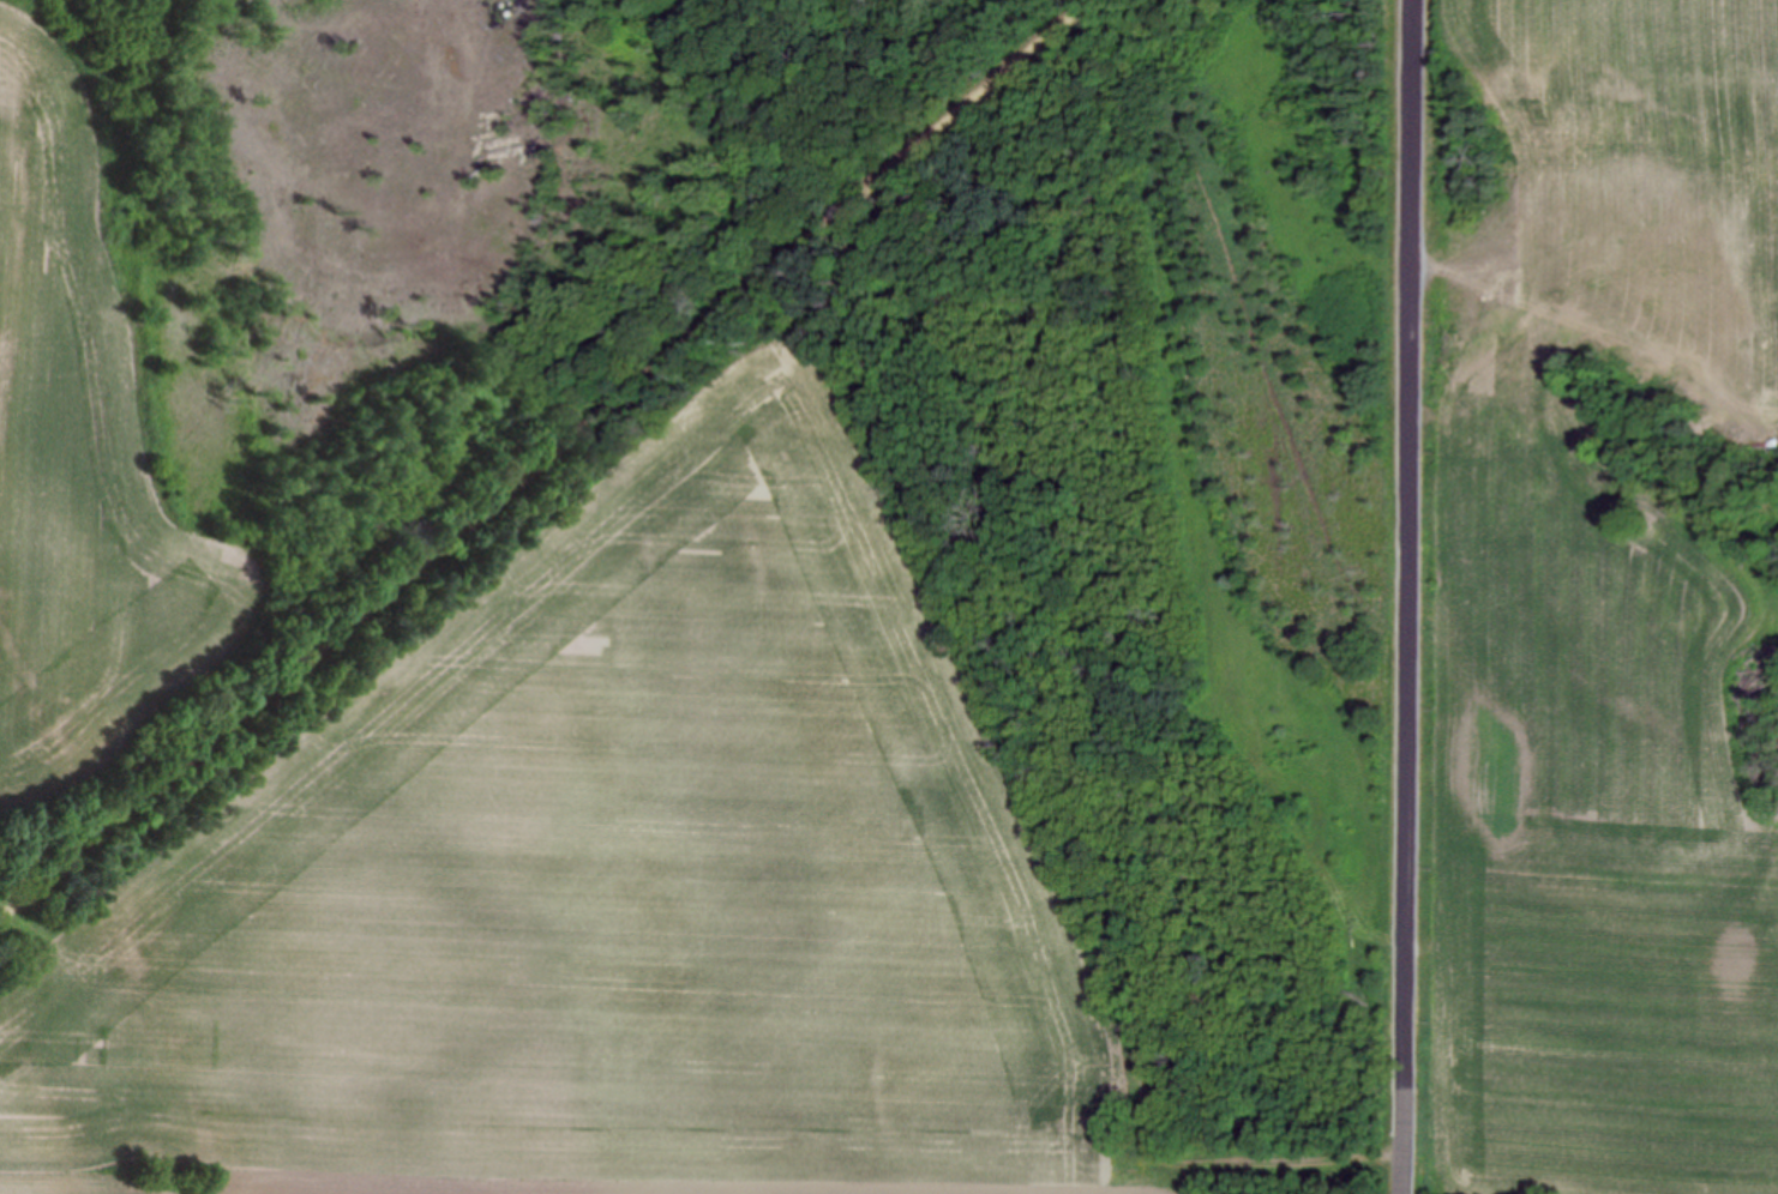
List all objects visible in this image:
road: (548, 466)
road: (1410, 597)

